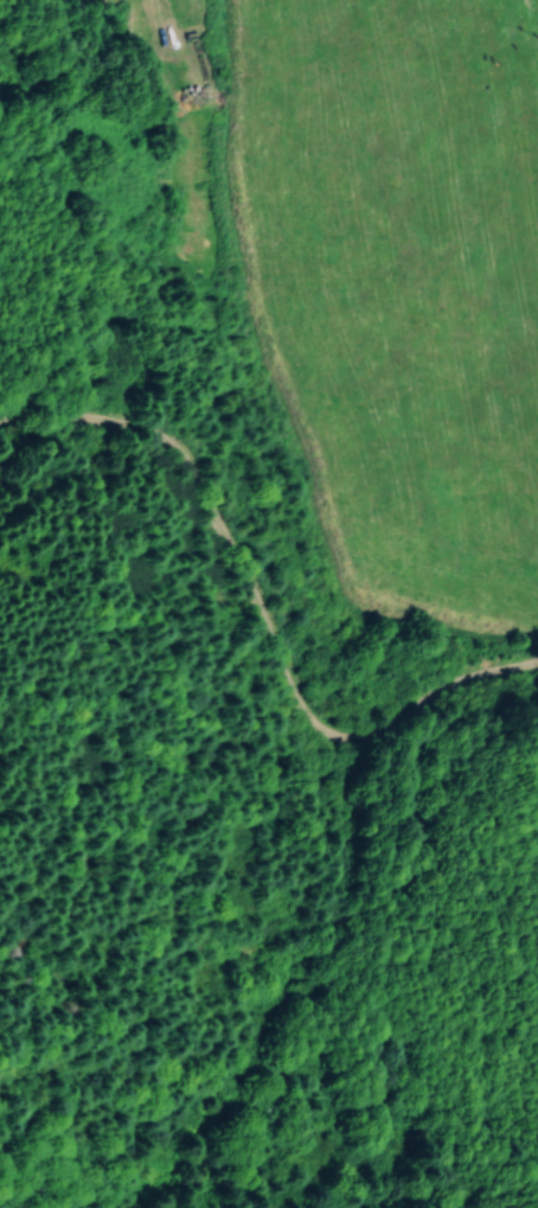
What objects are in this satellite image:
road: (162, 40)
crop: (380, 290)

